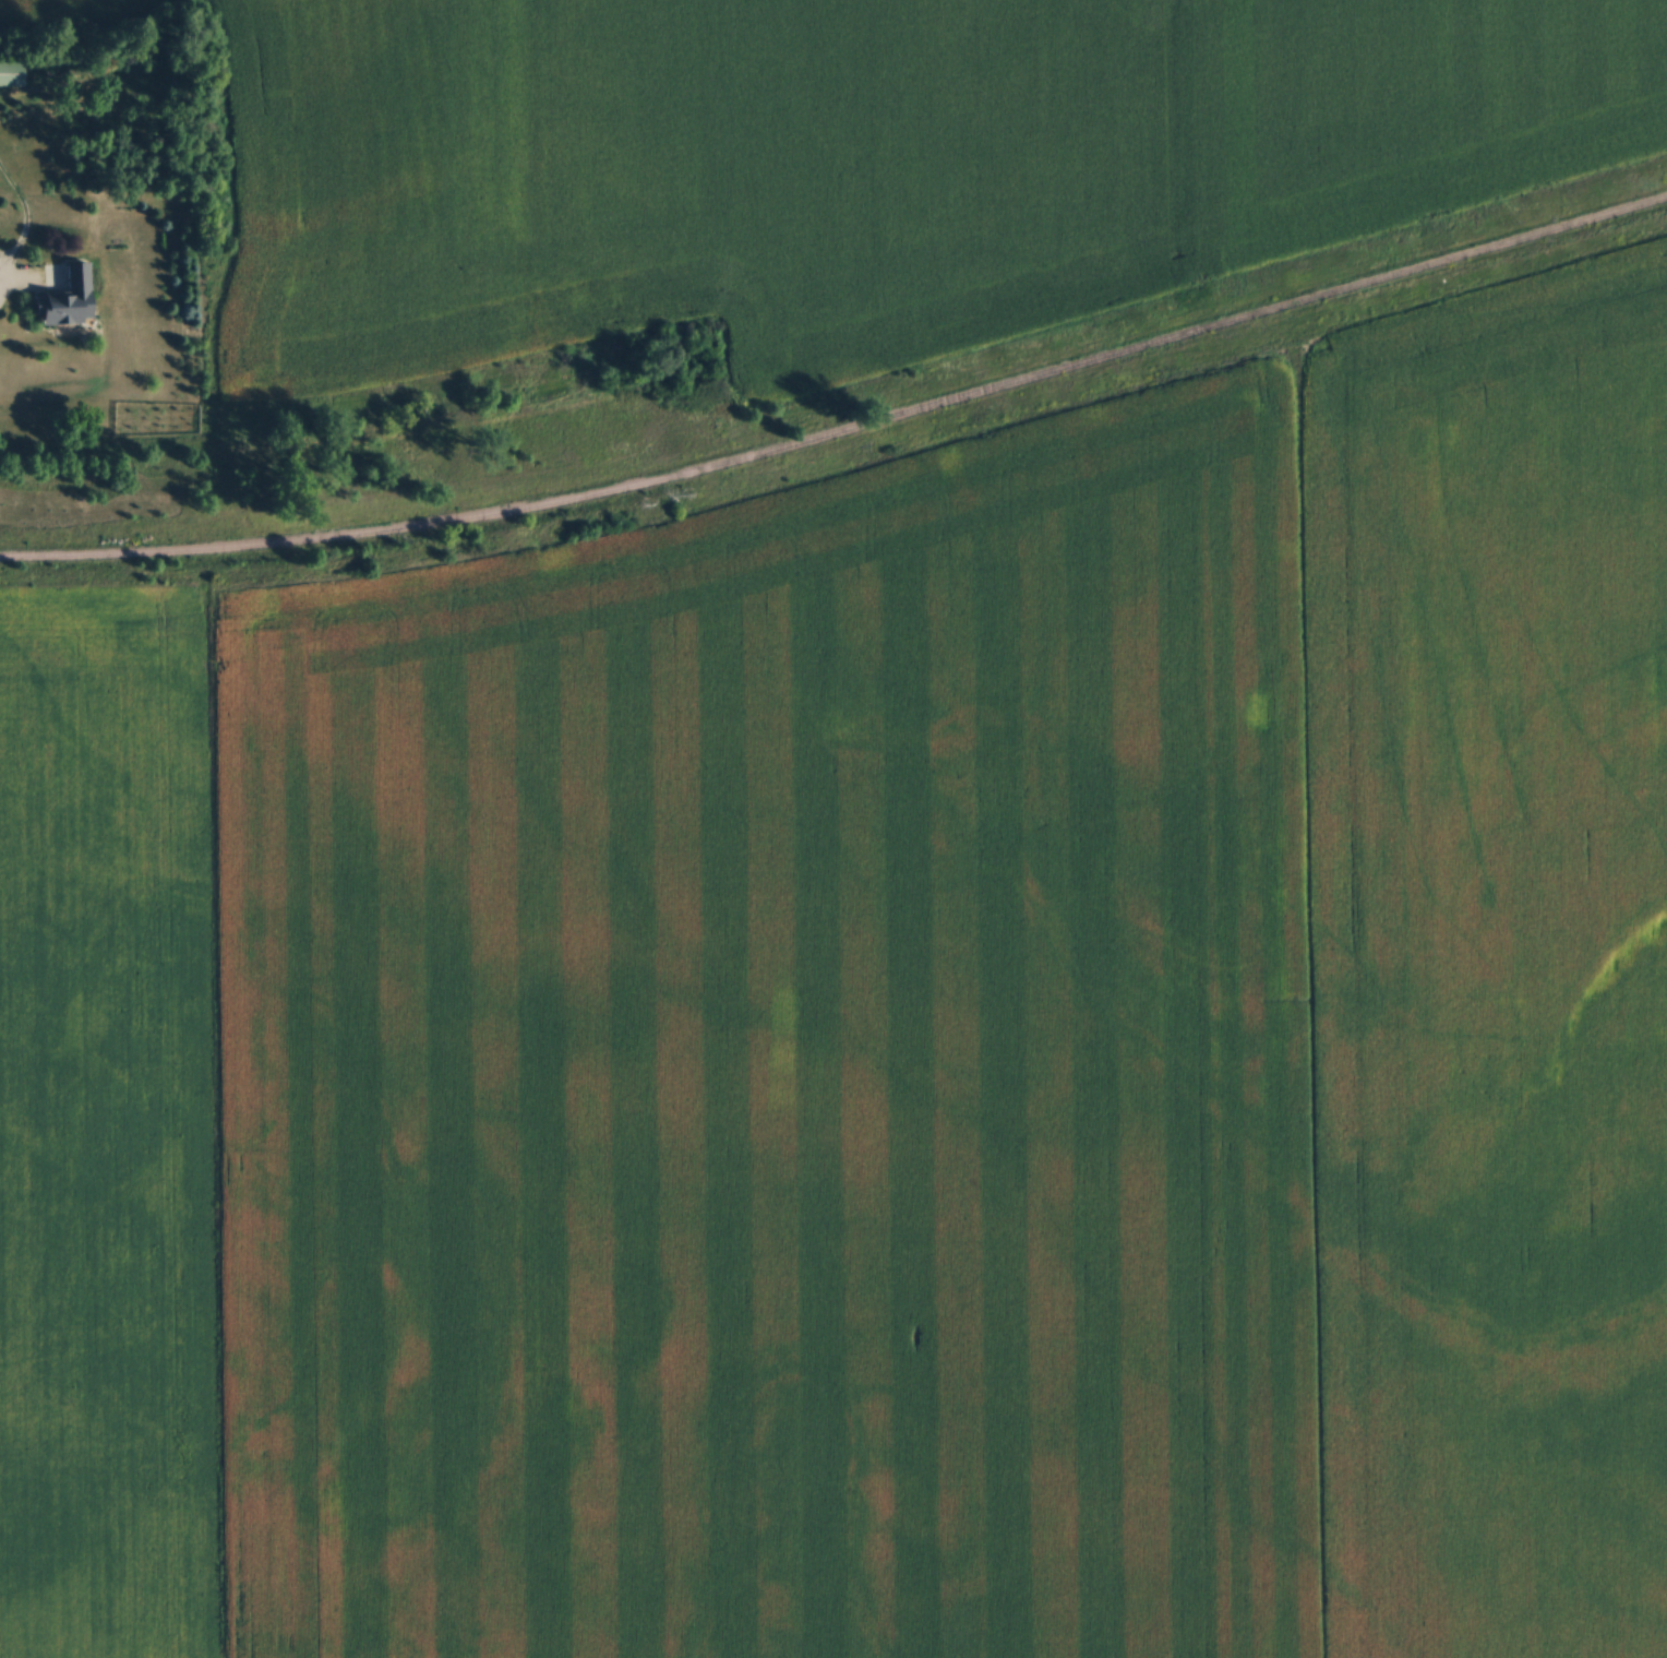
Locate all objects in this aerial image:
building: (13, 76)
building: (72, 301)
railway: (842, 430)

